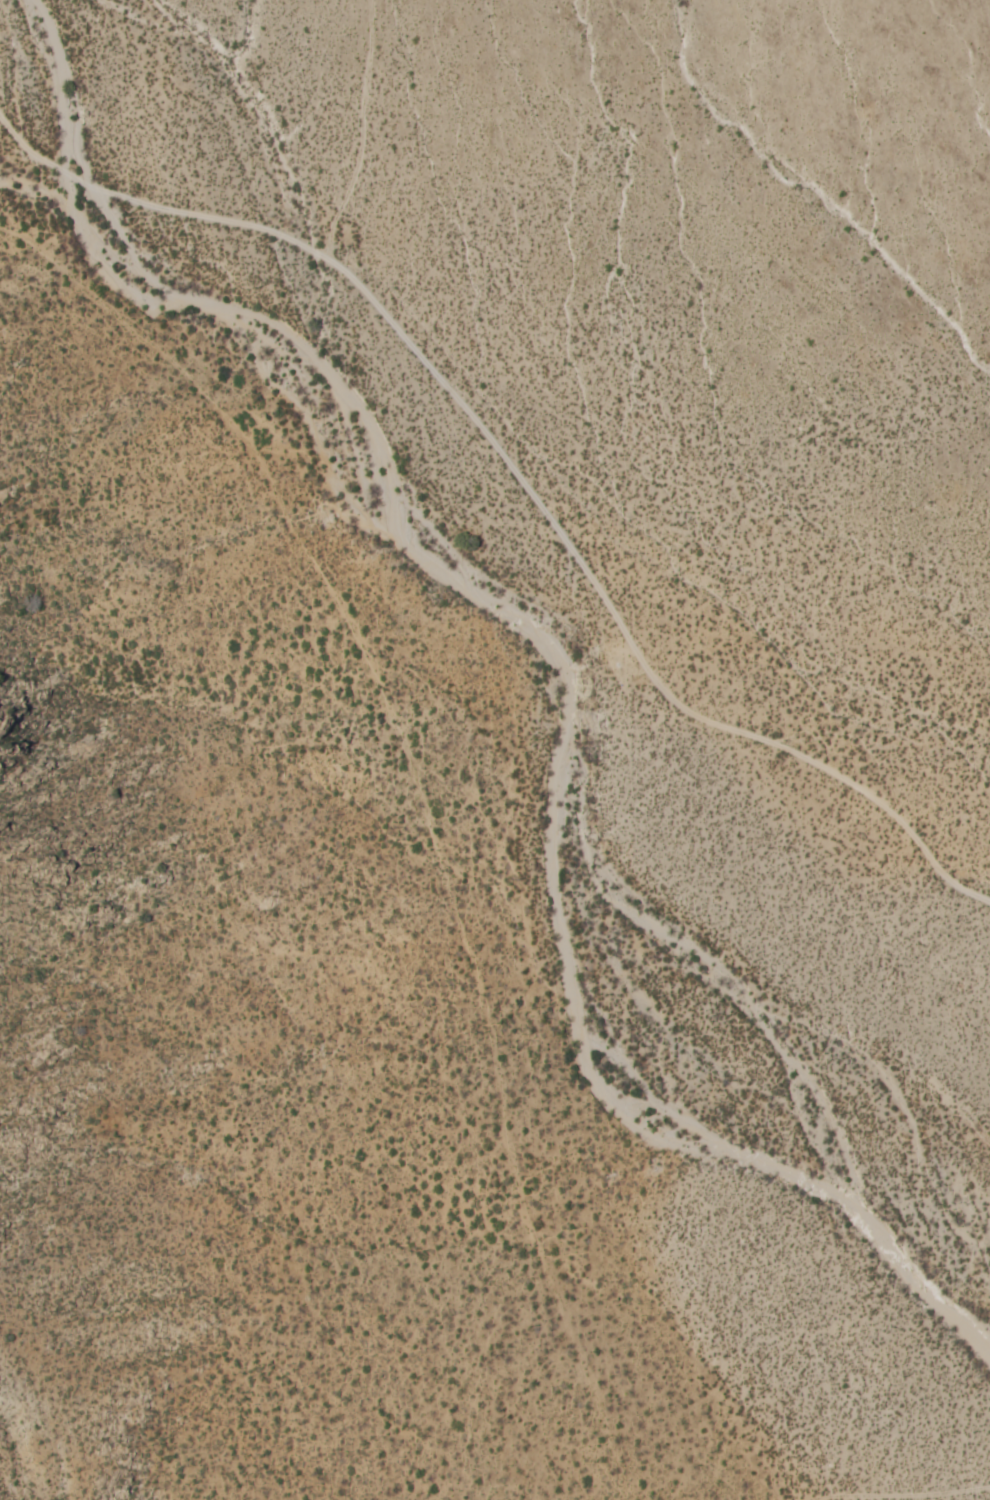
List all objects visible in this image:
road: (518, 474)
road: (424, 800)
road: (894, 1495)

